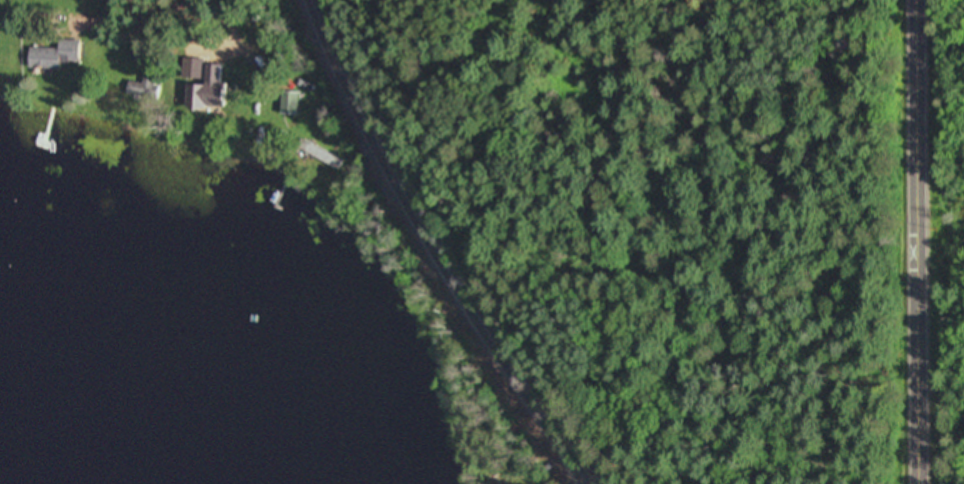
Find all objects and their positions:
road: (169, 12)
road: (216, 24)
park: (153, 29)
building: (51, 57)
building: (199, 86)
building: (287, 105)
building: (253, 134)
building: (317, 156)
road: (916, 242)
railway: (431, 248)

